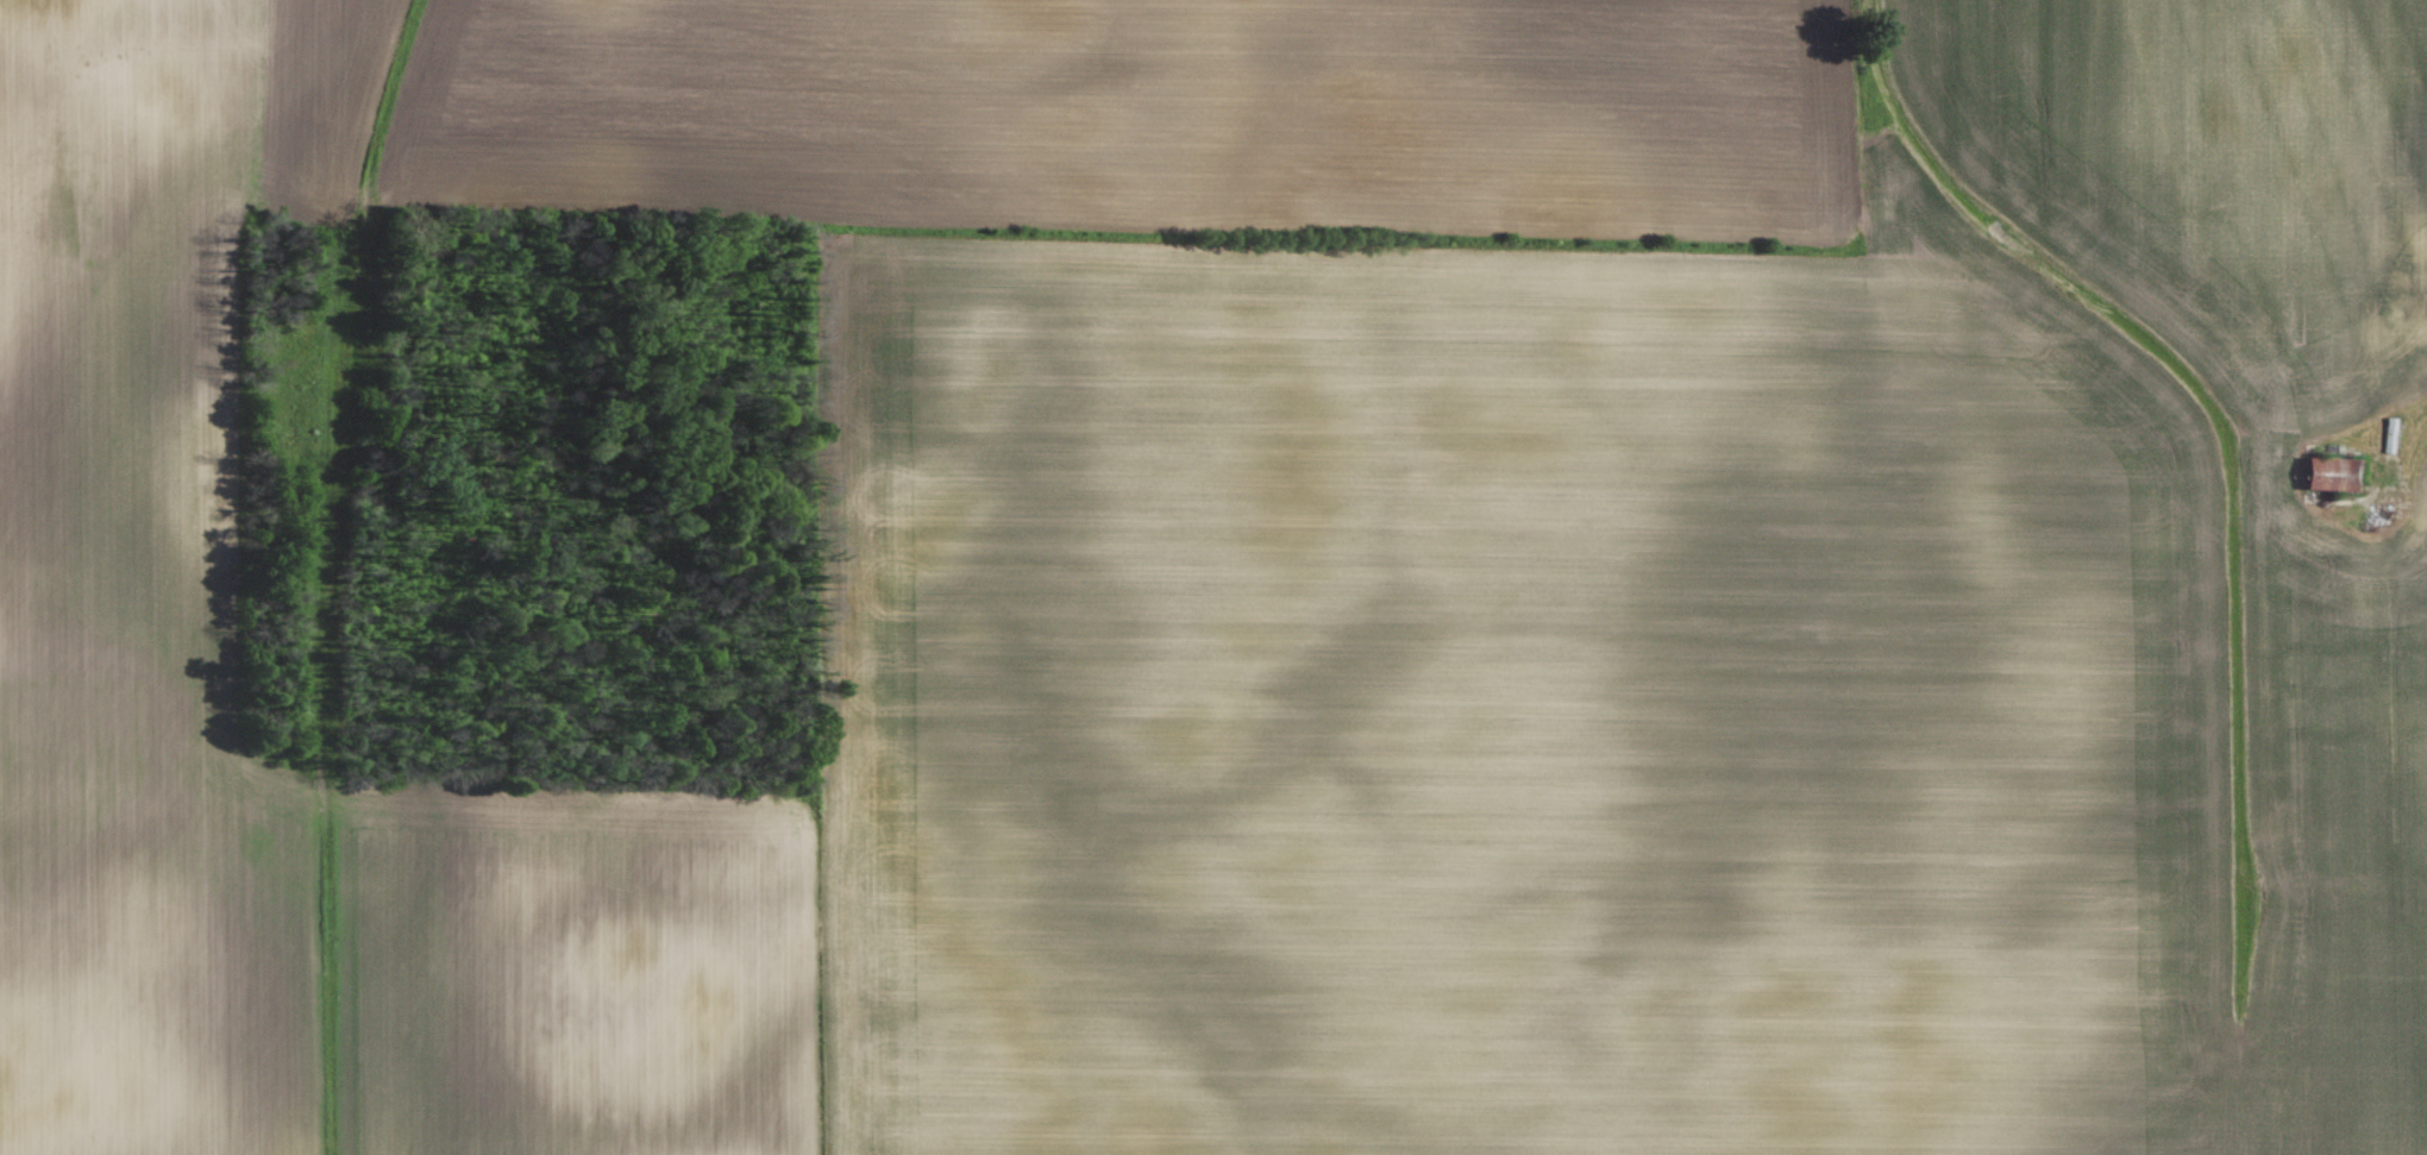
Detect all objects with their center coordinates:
road: (2370, 421)
building: (2327, 476)

